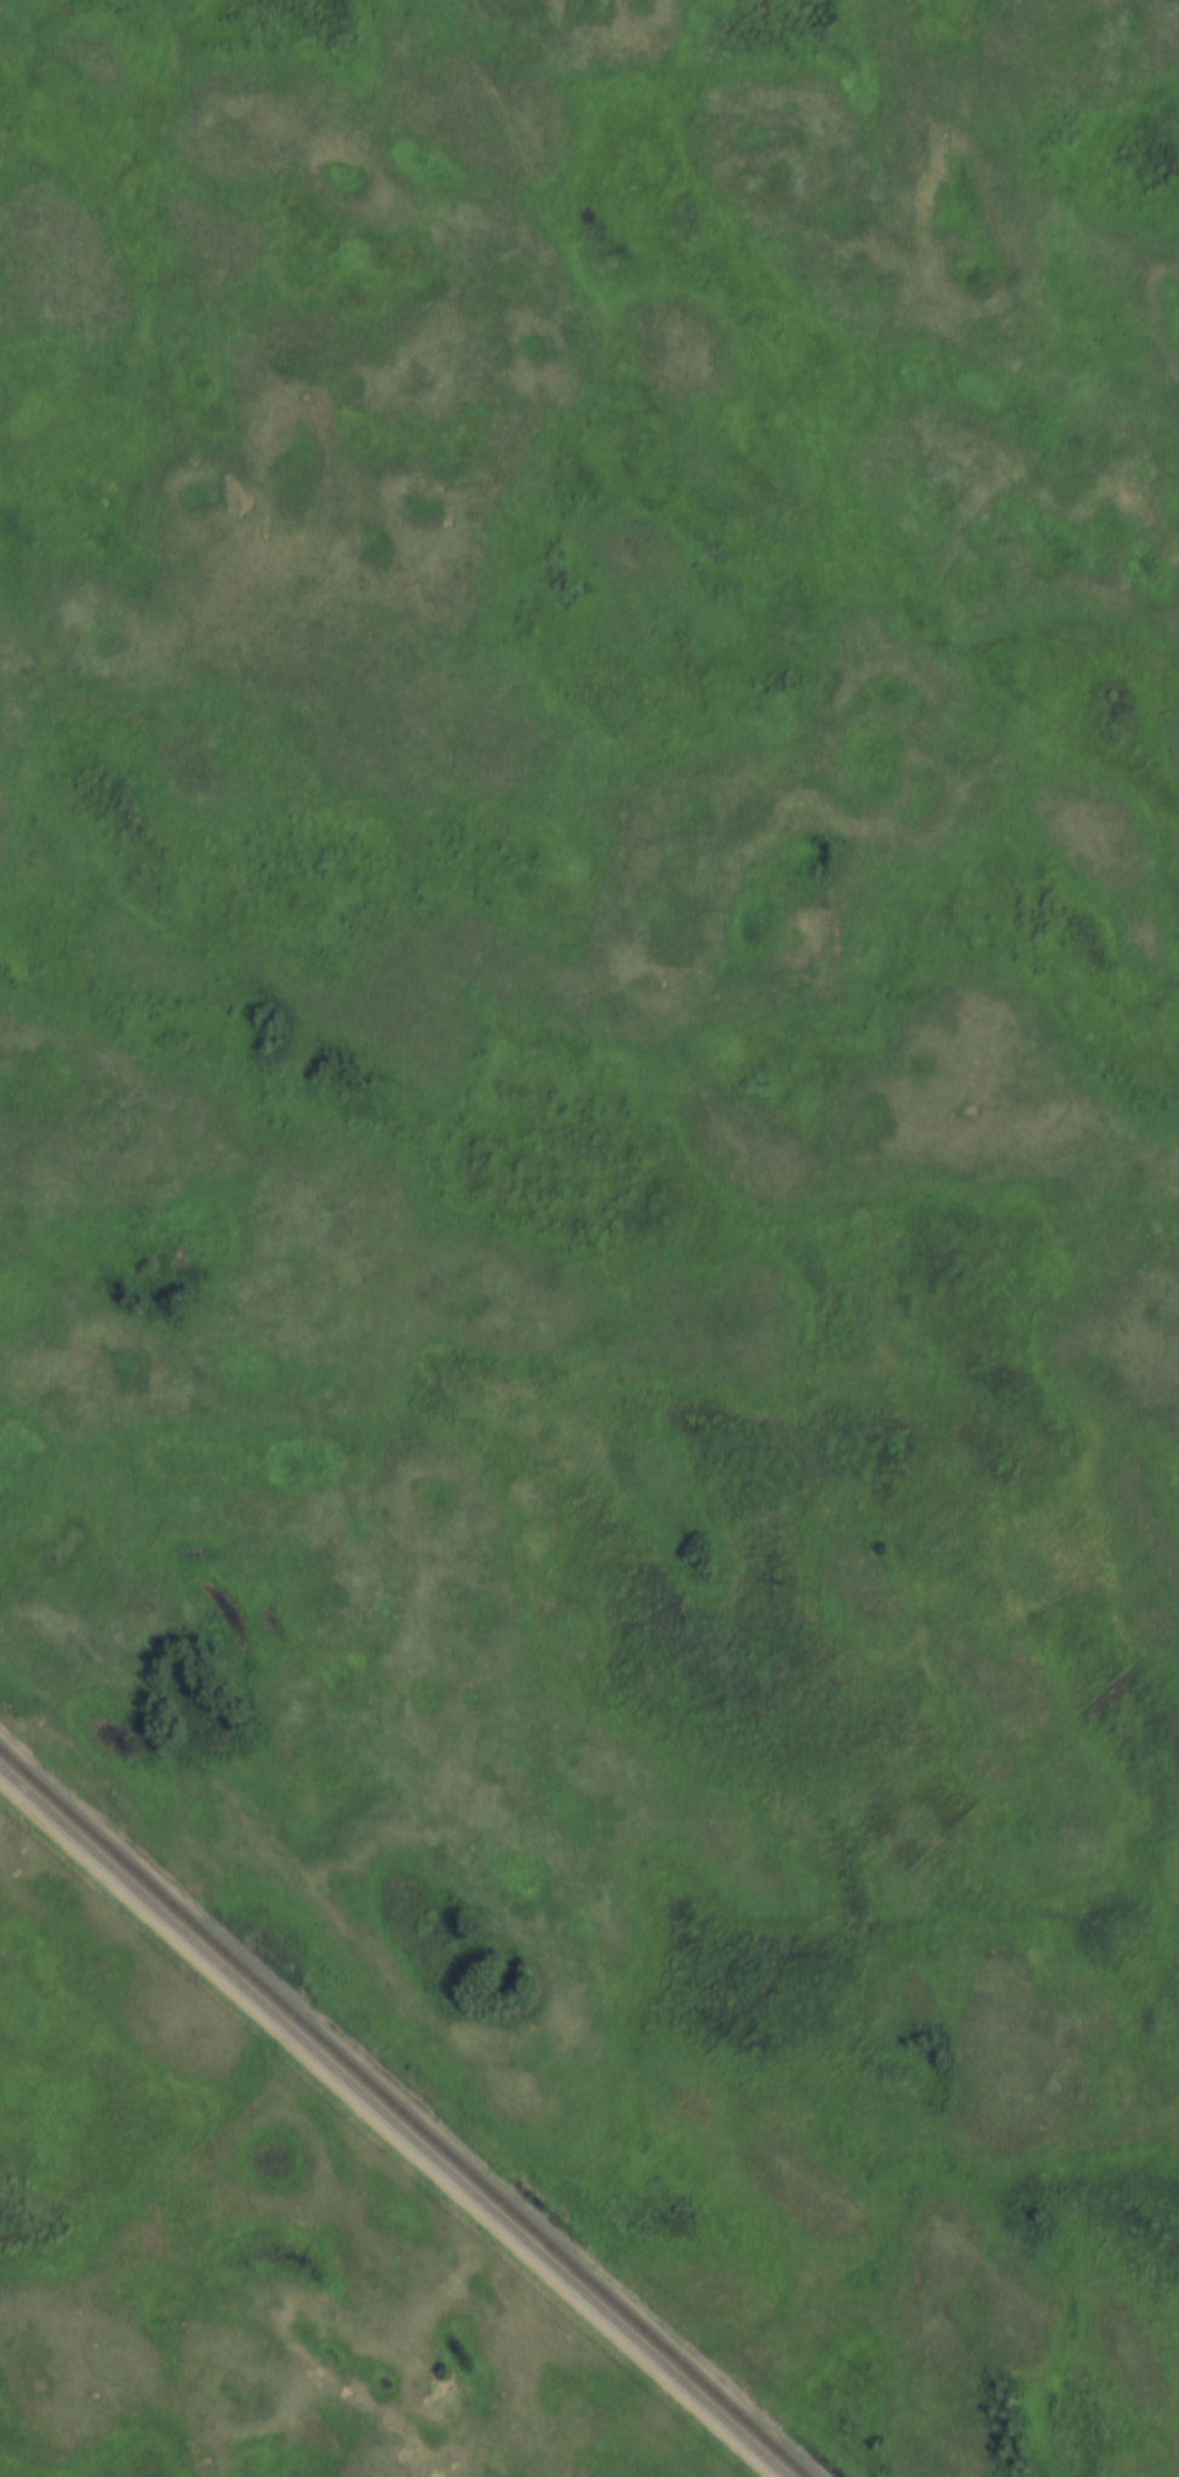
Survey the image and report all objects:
railway: (401, 2115)
railway: (393, 2123)

